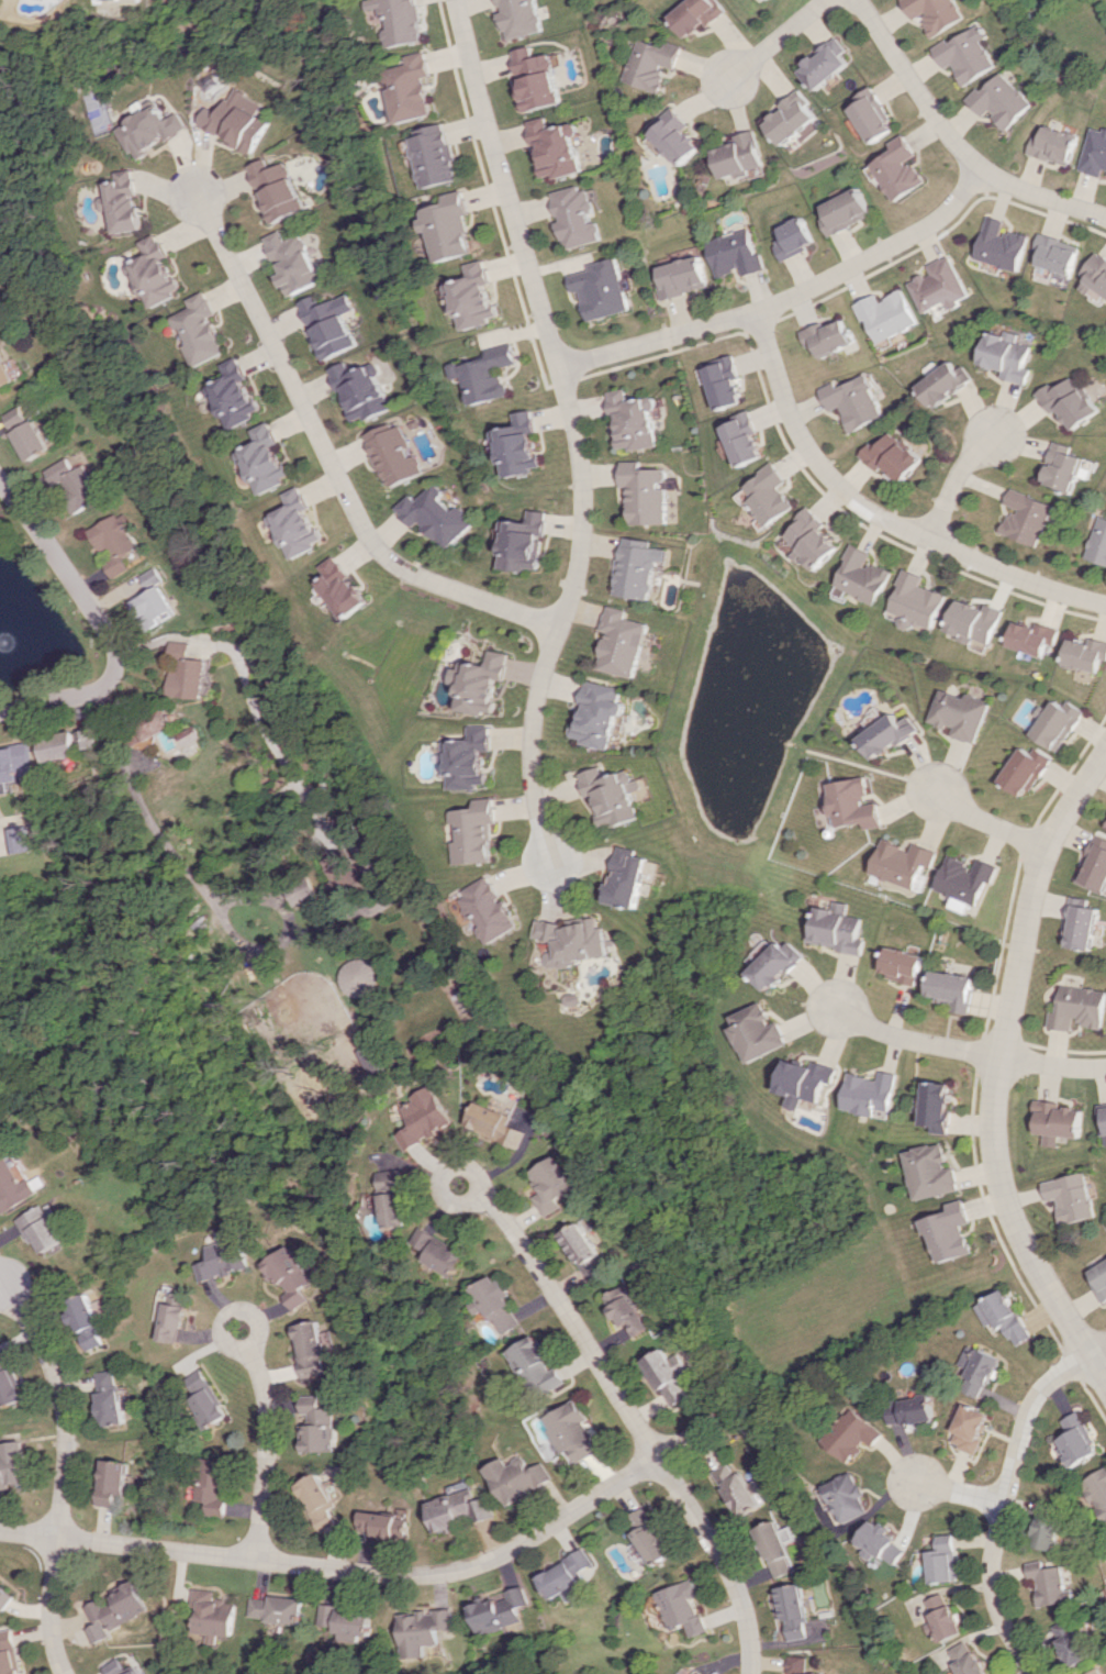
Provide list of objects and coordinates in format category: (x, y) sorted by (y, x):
building: (100, 0)
building: (937, 13)
building: (697, 14)
building: (522, 16)
building: (402, 20)
road: (778, 40)
building: (969, 54)
building: (651, 63)
building: (827, 64)
building: (539, 79)
building: (415, 87)
road: (917, 87)
building: (1002, 100)
building: (873, 115)
building: (793, 118)
building: (243, 120)
building: (156, 130)
building: (677, 136)
building: (1054, 145)
building: (559, 146)
building: (1095, 153)
building: (440, 156)
building: (740, 156)
building: (900, 168)
building: (284, 189)
road: (1042, 197)
building: (129, 202)
building: (845, 211)
building: (579, 217)
building: (454, 226)
building: (794, 237)
building: (1002, 245)
building: (736, 253)
building: (1057, 254)
building: (301, 262)
building: (157, 271)
building: (1094, 275)
building: (681, 277)
building: (940, 285)
building: (603, 289)
building: (477, 296)
road: (787, 299)
building: (889, 314)
building: (335, 324)
building: (202, 329)
building: (830, 336)
building: (1007, 355)
building: (5, 373)
building: (489, 375)
building: (727, 381)
building: (945, 384)
building: (365, 390)
building: (236, 393)
building: (856, 401)
building: (1068, 402)
building: (634, 420)
road: (573, 426)
building: (29, 433)
building: (747, 439)
building: (520, 444)
building: (396, 454)
building: (895, 456)
building: (267, 458)
road: (333, 459)
building: (1062, 467)
road: (956, 480)
building: (78, 483)
building: (772, 494)
road: (880, 514)
building: (437, 515)
building: (1026, 517)
building: (299, 523)
building: (815, 540)
building: (524, 541)
building: (1097, 542)
building: (120, 544)
building: (638, 567)
building: (867, 576)
building: (346, 587)
building: (155, 600)
building: (919, 601)
building: (974, 621)
road: (104, 628)
building: (1030, 638)
building: (624, 642)
building: (1083, 654)
building: (189, 673)
building: (483, 683)
building: (603, 713)
building: (960, 714)
building: (156, 723)
building: (1053, 723)
building: (890, 734)
building: (192, 735)
building: (72, 744)
building: (473, 758)
building: (16, 765)
building: (1021, 771)
road: (300, 779)
building: (616, 796)
building: (856, 803)
building: (351, 822)
road: (981, 823)
building: (1105, 824)
building: (481, 832)
building: (23, 840)
building: (903, 863)
building: (1093, 865)
building: (348, 871)
building: (633, 878)
building: (962, 882)
road: (205, 886)
building: (495, 909)
building: (1077, 924)
building: (837, 928)
building: (580, 940)
building: (779, 964)
building: (898, 965)
building: (367, 977)
building: (950, 989)
building: (1076, 1008)
building: (759, 1032)
road: (911, 1040)
building: (381, 1060)
road: (1052, 1066)
road: (997, 1068)
building: (807, 1080)
building: (870, 1093)
building: (938, 1106)
building: (429, 1117)
building: (1054, 1121)
building: (1102, 1122)
building: (501, 1123)
building: (932, 1172)
building: (556, 1184)
building: (13, 1186)
building: (1070, 1197)
building: (396, 1198)
building: (41, 1228)
building: (948, 1231)
building: (585, 1250)
building: (443, 1252)
building: (221, 1256)
building: (289, 1275)
building: (1099, 1278)
building: (499, 1304)
building: (626, 1311)
building: (171, 1316)
building: (1003, 1316)
building: (86, 1321)
building: (310, 1349)
building: (539, 1367)
building: (977, 1370)
building: (668, 1374)
building: (8, 1381)
building: (109, 1397)
building: (204, 1397)
building: (911, 1409)
road: (632, 1415)
building: (320, 1426)
building: (970, 1428)
building: (576, 1432)
building: (853, 1434)
building: (1076, 1439)
road: (265, 1440)
road: (680, 1442)
building: (11, 1465)
road: (62, 1468)
building: (523, 1478)
building: (110, 1481)
building: (209, 1485)
building: (737, 1489)
building: (1097, 1490)
road: (959, 1493)
road: (1006, 1495)
building: (847, 1497)
building: (320, 1500)
building: (462, 1507)
building: (394, 1526)
building: (1047, 1532)
building: (650, 1536)
building: (881, 1542)
building: (773, 1548)
building: (943, 1560)
road: (344, 1567)
building: (1048, 1583)
building: (4, 1597)
building: (937, 1601)
building: (681, 1607)
building: (277, 1609)
building: (113, 1610)
building: (501, 1610)
building: (791, 1611)
building: (212, 1615)
building: (347, 1619)
building: (945, 1623)
building: (425, 1630)
building: (1073, 1643)
building: (8, 1653)
building: (968, 1659)
building: (795, 1665)
building: (116, 1667)
building: (1099, 1671)
building: (692, 1672)

